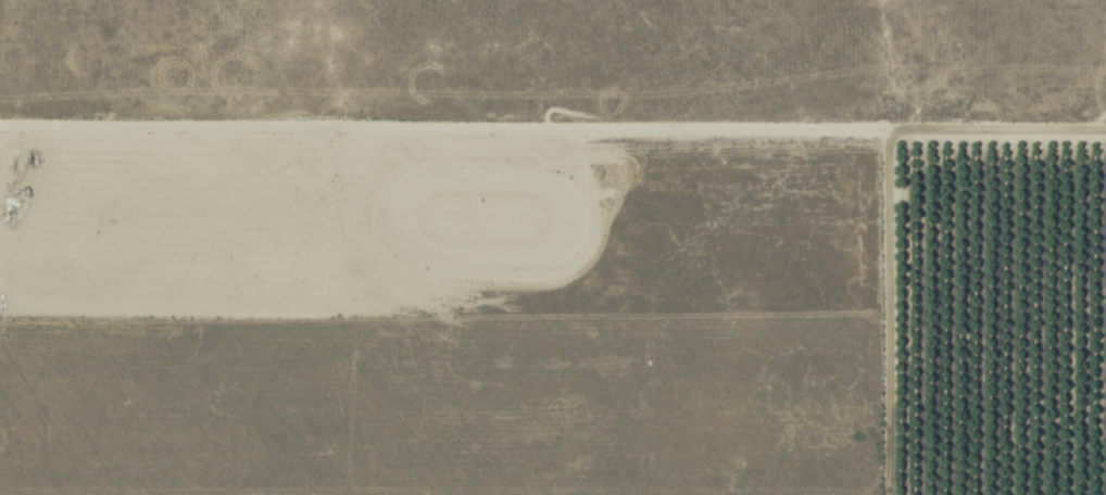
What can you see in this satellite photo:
road: (553, 125)
crop: (553, 247)

